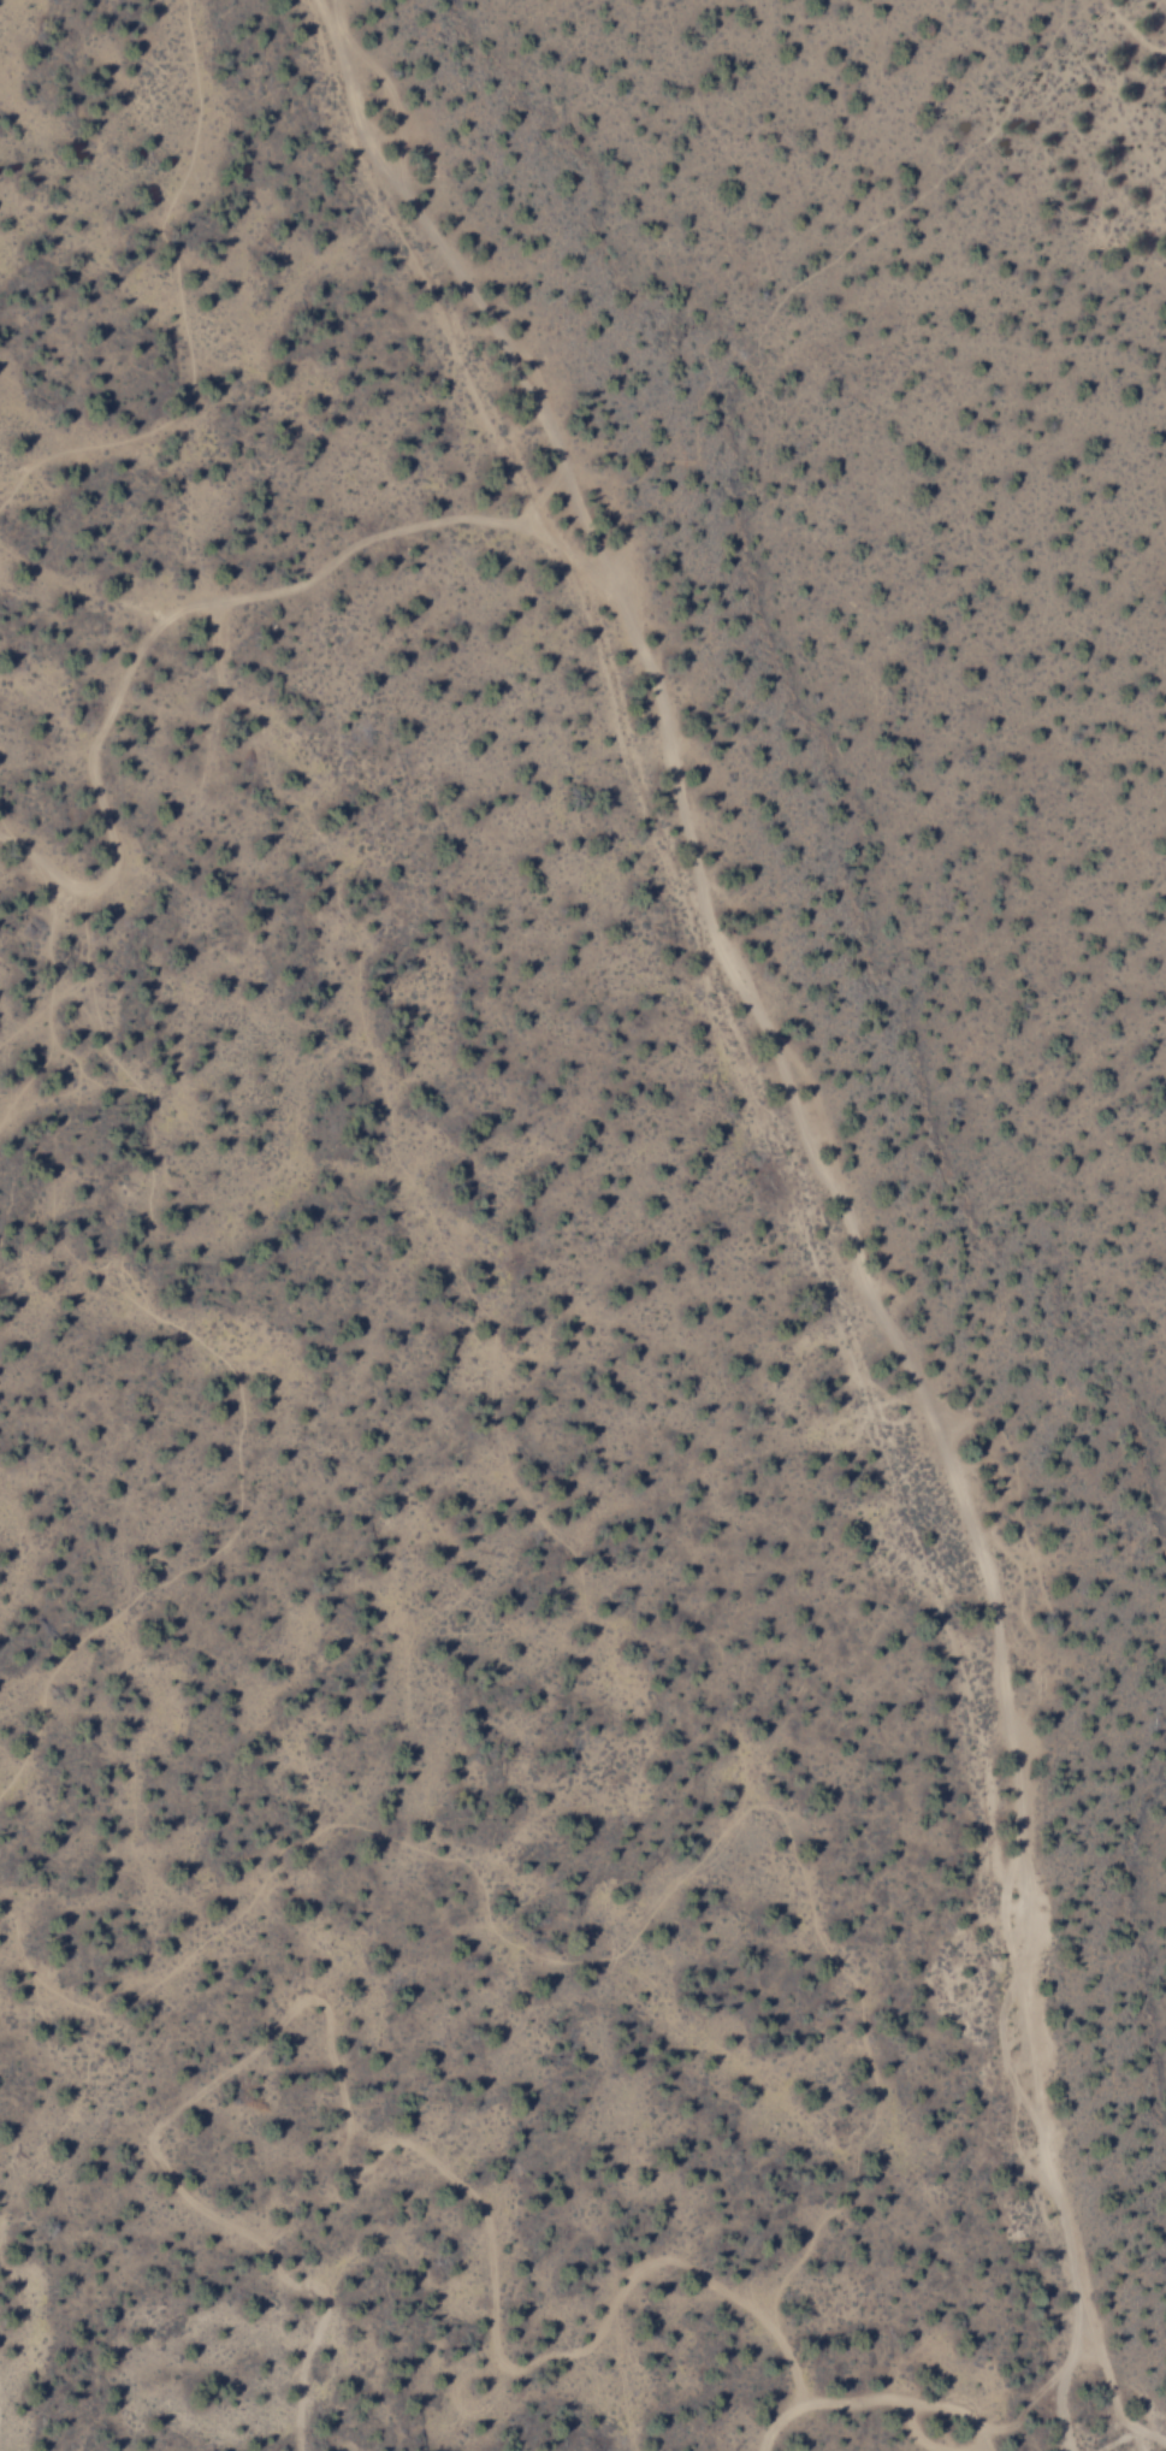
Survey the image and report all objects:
road: (183, 612)
road: (828, 1192)
road: (342, 2146)
road: (874, 2402)

